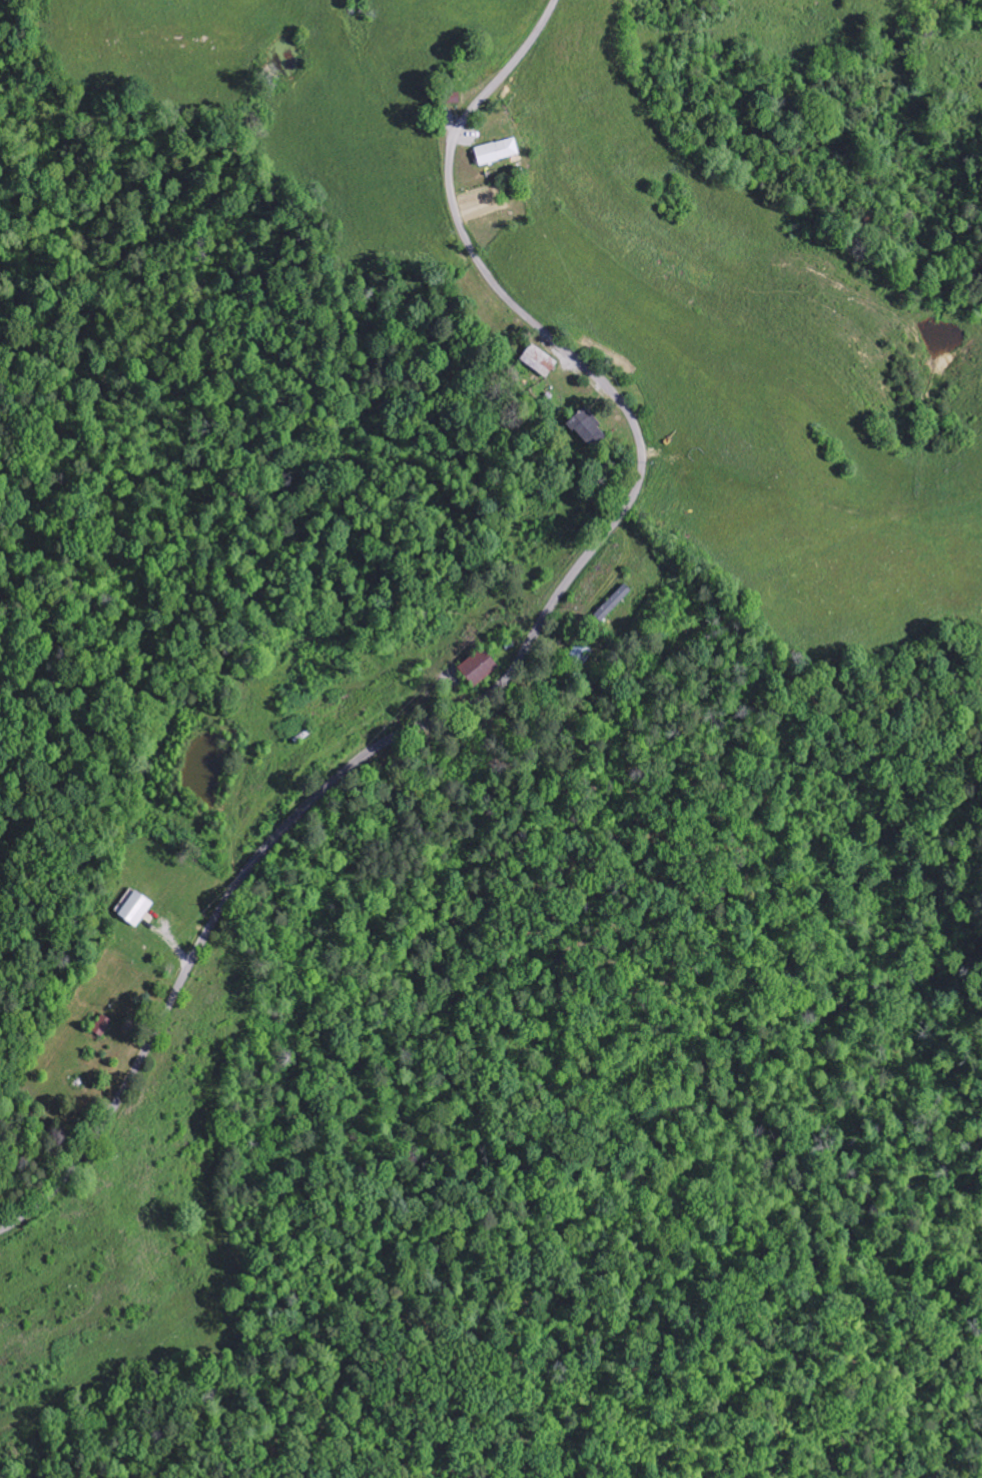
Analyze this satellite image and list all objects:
building: (494, 153)
building: (541, 362)
building: (590, 430)
building: (615, 604)
road: (521, 653)
building: (583, 655)
building: (482, 668)
building: (138, 910)
building: (103, 1027)

